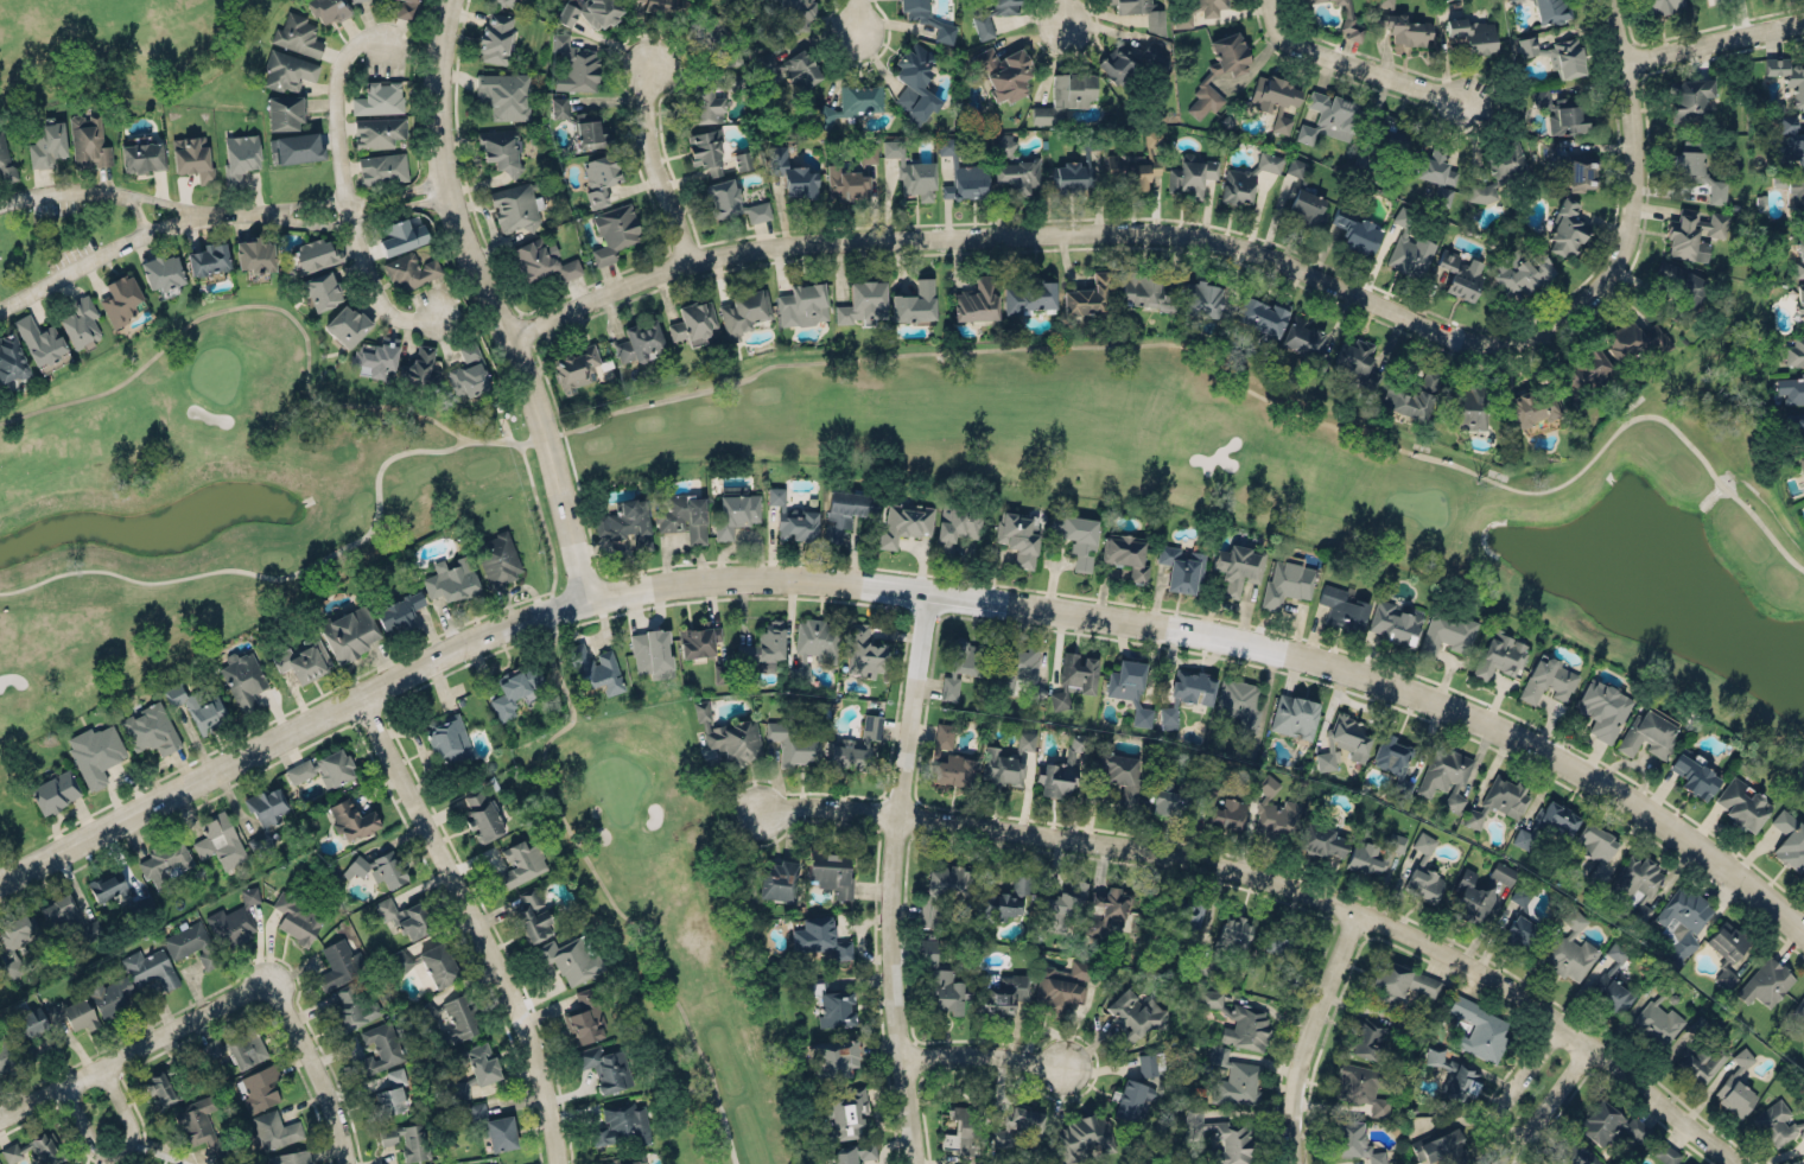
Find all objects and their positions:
building: (1310, 0)
building: (1315, 0)
building: (354, 1)
building: (507, 2)
building: (662, 6)
building: (1663, 6)
building: (328, 9)
building: (406, 9)
building: (1550, 11)
building: (590, 12)
building: (795, 13)
road: (1066, 13)
building: (1181, 13)
road: (860, 15)
building: (927, 19)
building: (1349, 21)
building: (1155, 23)
building: (983, 25)
building: (1402, 27)
building: (297, 34)
building: (1472, 34)
building: (495, 38)
road: (1716, 39)
park: (119, 46)
building: (1556, 53)
building: (1155, 56)
building: (1118, 63)
road: (1360, 63)
building: (574, 64)
building: (790, 68)
building: (287, 70)
building: (1003, 71)
building: (1207, 75)
building: (917, 76)
building: (1790, 78)
building: (504, 95)
building: (379, 97)
building: (1065, 97)
building: (712, 98)
building: (1273, 100)
building: (1689, 100)
building: (852, 102)
building: (1561, 113)
building: (284, 114)
building: (1329, 116)
building: (377, 132)
building: (589, 132)
building: (1790, 139)
building: (89, 140)
building: (46, 142)
building: (1386, 144)
building: (297, 147)
road: (1641, 147)
building: (501, 150)
building: (1549, 150)
building: (706, 151)
building: (868, 153)
building: (192, 157)
building: (240, 157)
building: (142, 158)
building: (1505, 159)
building: (5, 160)
building: (742, 160)
building: (1269, 161)
road: (661, 164)
building: (1135, 165)
building: (382, 168)
building: (1015, 168)
building: (910, 171)
building: (1580, 171)
building: (1698, 172)
building: (963, 173)
building: (1435, 173)
building: (1189, 174)
building: (1071, 176)
building: (599, 178)
building: (800, 183)
building: (845, 183)
road: (343, 185)
building: (1237, 185)
road: (109, 189)
building: (1792, 190)
building: (1481, 191)
building: (1304, 197)
road: (356, 199)
building: (732, 203)
building: (514, 206)
road: (136, 212)
road: (357, 217)
building: (1565, 229)
road: (1065, 230)
building: (615, 231)
building: (1355, 231)
building: (402, 233)
building: (1692, 233)
road: (126, 240)
building: (1409, 248)
building: (1799, 254)
building: (313, 255)
building: (255, 257)
building: (540, 260)
building: (208, 261)
building: (409, 271)
building: (1522, 271)
building: (163, 272)
building: (1460, 273)
building: (1679, 290)
building: (320, 291)
building: (1144, 291)
building: (1028, 295)
building: (121, 299)
building: (1087, 299)
building: (1800, 300)
building: (976, 301)
building: (1202, 301)
road: (493, 303)
building: (862, 303)
building: (914, 304)
building: (801, 305)
road: (280, 309)
building: (744, 312)
building: (1263, 317)
building: (693, 322)
building: (81, 323)
building: (347, 325)
building: (1634, 341)
building: (640, 342)
building: (1304, 342)
building: (42, 343)
building: (1795, 351)
building: (376, 352)
building: (11, 358)
building: (1357, 361)
building: (577, 367)
building: (420, 368)
road: (1225, 368)
building: (468, 370)
building: (1583, 373)
building: (1791, 388)
building: (1411, 396)
building: (1469, 405)
building: (1531, 408)
building: (1796, 425)
building: (1799, 463)
building: (845, 510)
building: (735, 513)
building: (681, 516)
building: (790, 517)
building: (904, 521)
building: (625, 524)
building: (955, 526)
building: (1018, 538)
building: (1076, 538)
road: (248, 547)
building: (1126, 554)
building: (497, 556)
building: (1238, 567)
building: (1181, 570)
building: (450, 575)
building: (1287, 581)
road: (908, 589)
building: (1344, 611)
building: (398, 612)
building: (1393, 623)
building: (348, 631)
building: (1446, 631)
building: (698, 640)
building: (764, 645)
building: (813, 645)
building: (866, 650)
building: (650, 653)
building: (1500, 655)
building: (966, 656)
building: (303, 659)
building: (593, 667)
building: (1018, 669)
building: (719, 676)
building: (242, 678)
building: (1073, 678)
building: (1548, 680)
building: (948, 688)
building: (1129, 688)
building: (514, 689)
building: (1186, 692)
building: (1238, 702)
building: (201, 704)
building: (1601, 708)
building: (1294, 712)
road: (273, 719)
park: (618, 724)
building: (151, 726)
building: (445, 732)
building: (729, 736)
building: (1646, 736)
building: (1344, 742)
building: (790, 743)
building: (855, 745)
building: (95, 751)
building: (948, 758)
building: (1006, 759)
building: (1393, 762)
building: (1050, 763)
building: (324, 765)
building: (1118, 771)
building: (1446, 776)
building: (1694, 777)
building: (56, 789)
building: (1170, 795)
building: (1498, 801)
building: (1742, 803)
building: (267, 804)
road: (826, 804)
building: (1222, 806)
building: (1273, 812)
road: (560, 814)
building: (350, 816)
building: (482, 818)
building: (1549, 822)
building: (1320, 837)
building: (1789, 838)
building: (220, 841)
building: (1396, 841)
building: (260, 842)
building: (1594, 847)
building: (1366, 857)
building: (165, 859)
building: (521, 860)
building: (377, 869)
building: (826, 870)
building: (1423, 872)
building: (1803, 874)
road: (895, 877)
building: (1803, 879)
building: (777, 880)
building: (1637, 883)
building: (107, 884)
building: (1479, 888)
building: (941, 891)
building: (1519, 896)
building: (1005, 901)
building: (1062, 904)
road: (1357, 904)
building: (1109, 910)
building: (1173, 910)
building: (533, 914)
building: (404, 916)
building: (298, 917)
building: (69, 918)
building: (233, 920)
building: (1682, 921)
road: (475, 924)
building: (1519, 931)
building: (1232, 933)
building: (819, 937)
building: (18, 940)
building: (1277, 940)
building: (191, 942)
building: (1570, 949)
building: (1724, 949)
building: (927, 952)
building: (570, 956)
building: (430, 960)
building: (339, 963)
building: (150, 968)
building: (1613, 978)
building: (1765, 980)
building: (1399, 982)
building: (1062, 985)
building: (944, 991)
building: (108, 994)
building: (830, 1000)
building: (350, 1010)
building: (1799, 1010)
building: (426, 1011)
building: (72, 1013)
building: (1133, 1014)
building: (458, 1019)
building: (584, 1019)
building: (1238, 1019)
building: (1657, 1022)
building: (27, 1029)
building: (1478, 1029)
road: (1313, 1030)
building: (380, 1047)
road: (135, 1048)
building: (233, 1049)
road: (991, 1050)
building: (1701, 1051)
building: (5, 1054)
building: (833, 1054)
building: (1149, 1063)
building: (605, 1067)
building: (477, 1068)
road: (312, 1069)
building: (1455, 1071)
road: (1537, 1071)
building: (1233, 1079)
building: (163, 1085)
building: (261, 1086)
building: (1736, 1086)
building: (1360, 1087)
building: (394, 1095)
building: (1132, 1100)
building: (846, 1112)
building: (1607, 1121)
building: (1778, 1124)
building: (621, 1125)
building: (199, 1126)
building: (496, 1126)
building: (1019, 1127)
building: (274, 1128)
building: (964, 1130)
building: (1080, 1133)
building: (1220, 1137)
building: (407, 1139)
building: (1353, 1141)
road: (117, 1147)
building: (1440, 1147)
building: (36, 1150)
building: (852, 1152)
building: (1568, 1152)
building: (1665, 1153)
building: (291, 1157)
building: (629, 1162)
building: (64, 1163)
building: (1684, 1163)

